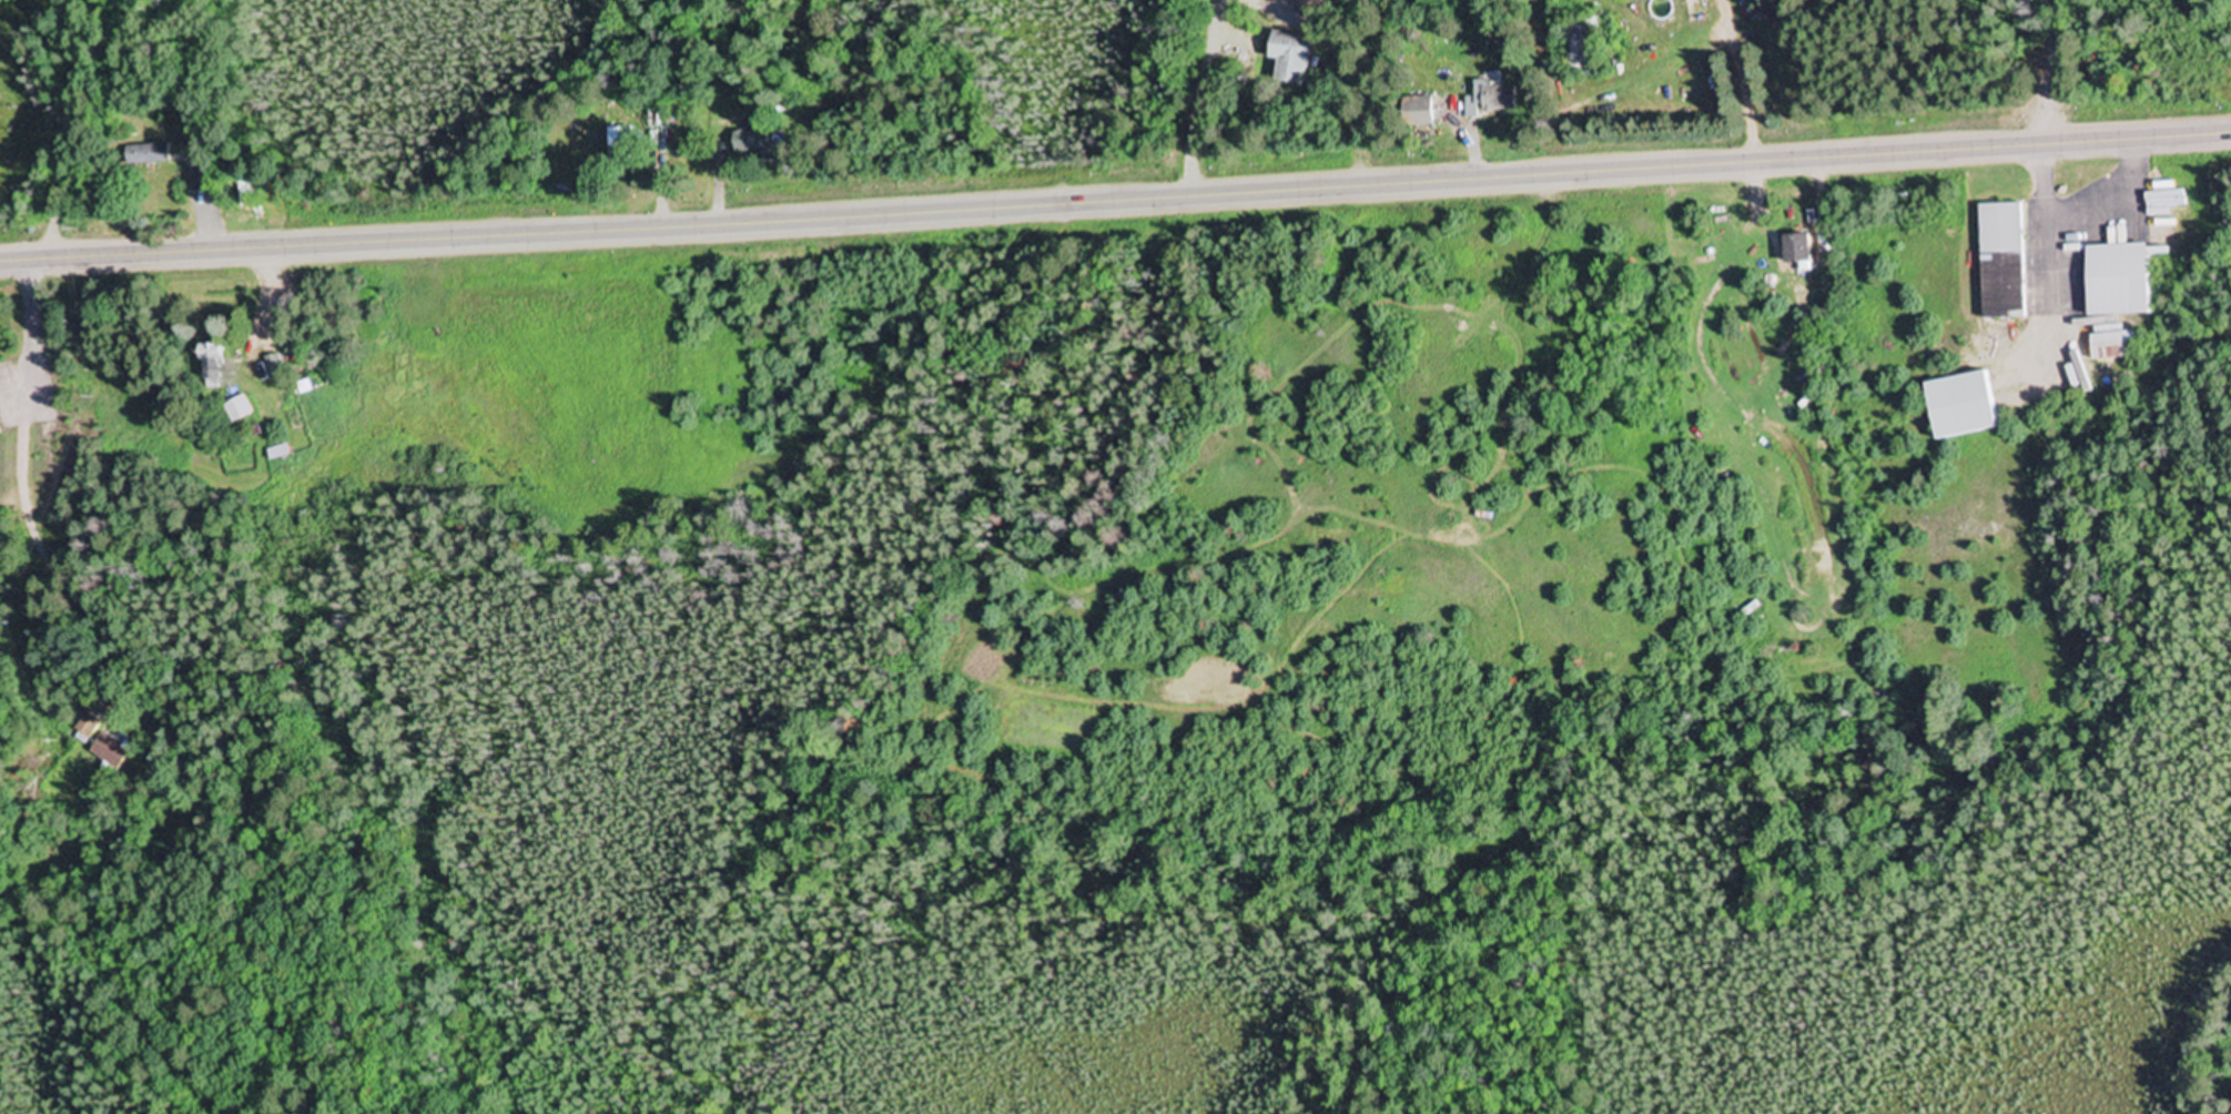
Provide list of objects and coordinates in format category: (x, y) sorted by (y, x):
building: (1311, 6)
building: (1581, 48)
building: (1286, 58)
road: (2055, 72)
building: (1489, 100)
building: (1413, 113)
building: (655, 130)
building: (747, 142)
building: (615, 145)
building: (149, 155)
road: (1115, 200)
building: (1792, 251)
building: (1998, 262)
building: (2112, 282)
building: (2111, 347)
building: (210, 367)
building: (271, 367)
building: (1961, 406)
building: (234, 409)
building: (87, 726)
building: (111, 751)
road: (166, 1014)

